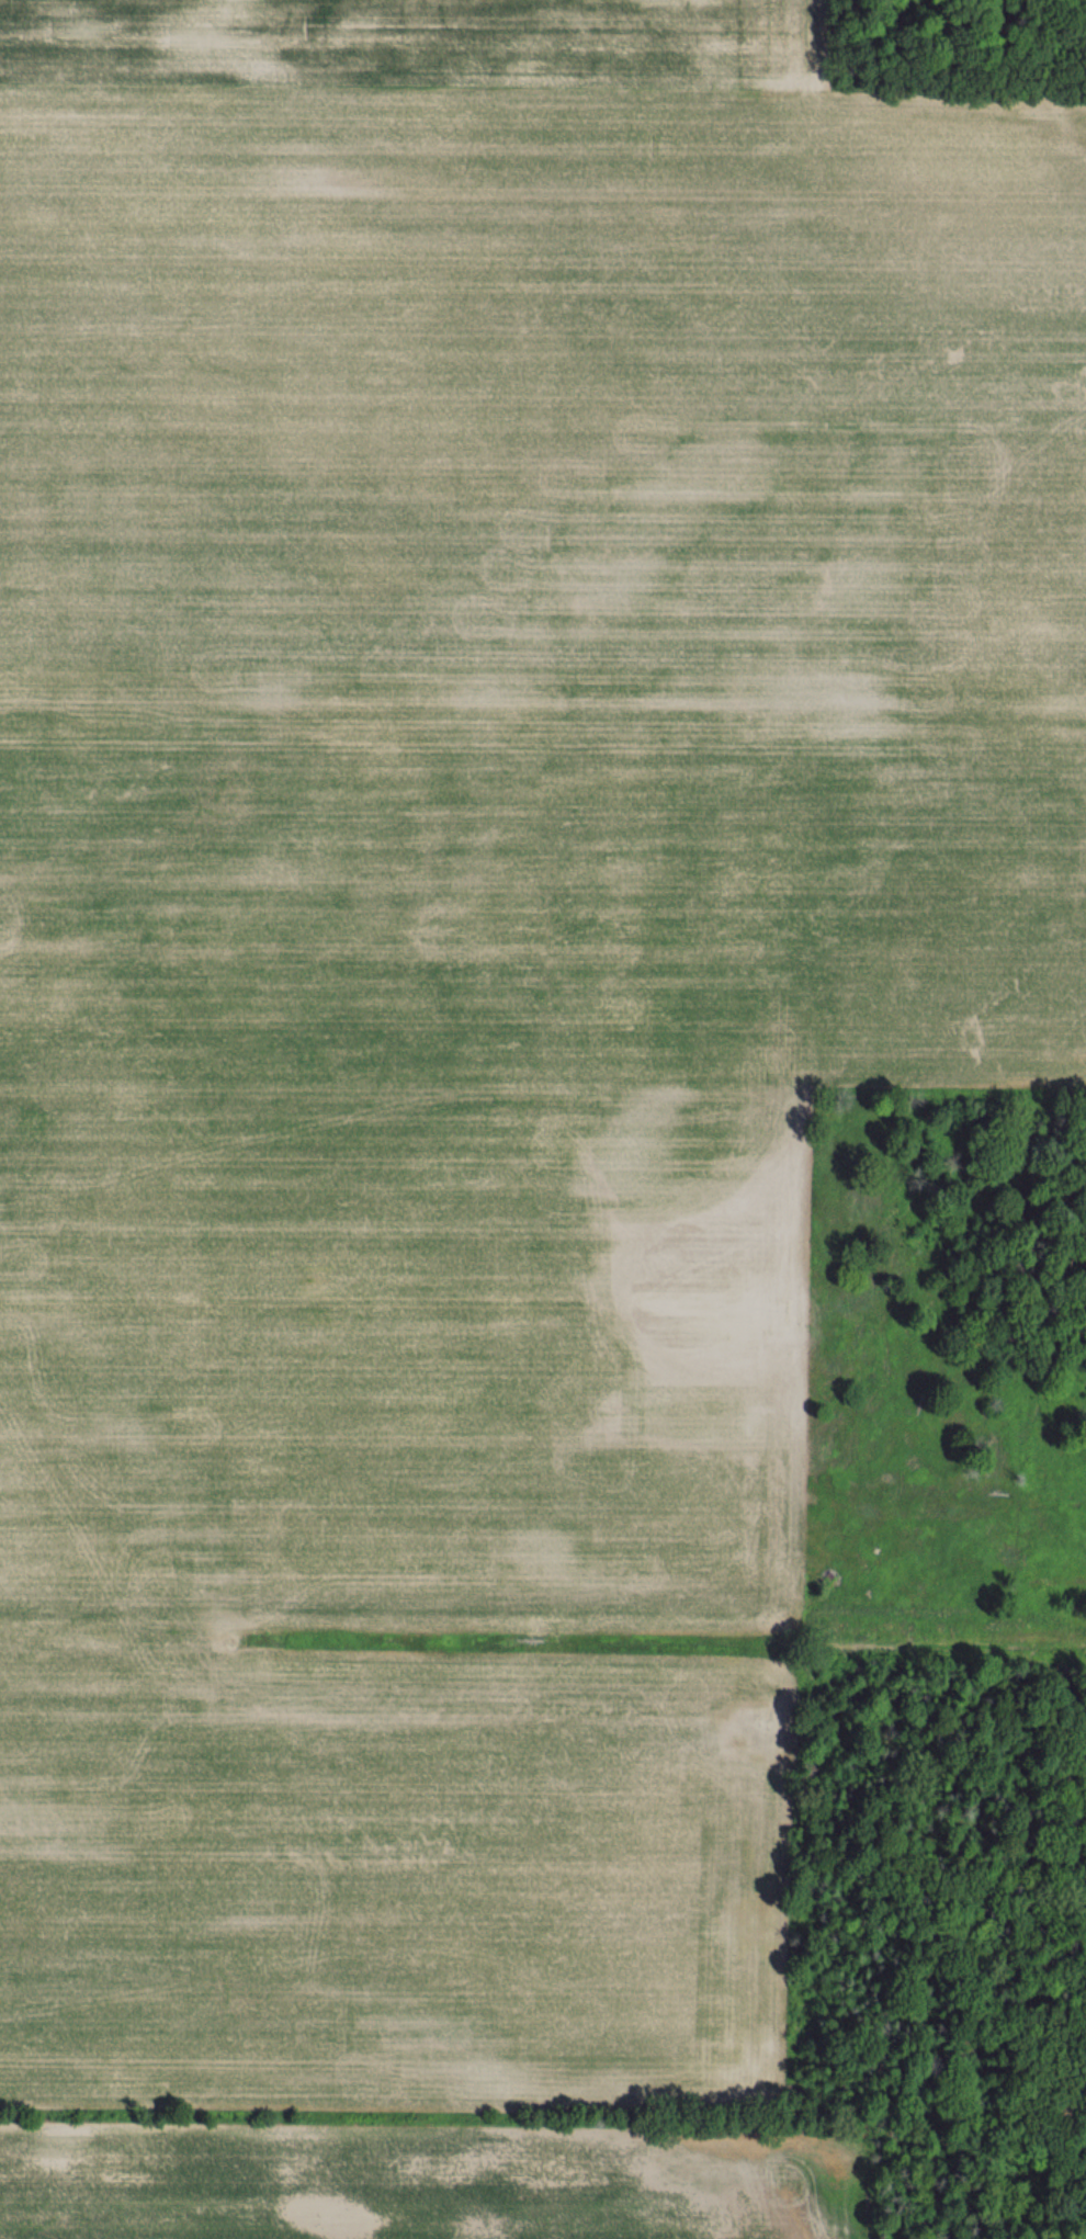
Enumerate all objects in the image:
building: (828, 1581)

